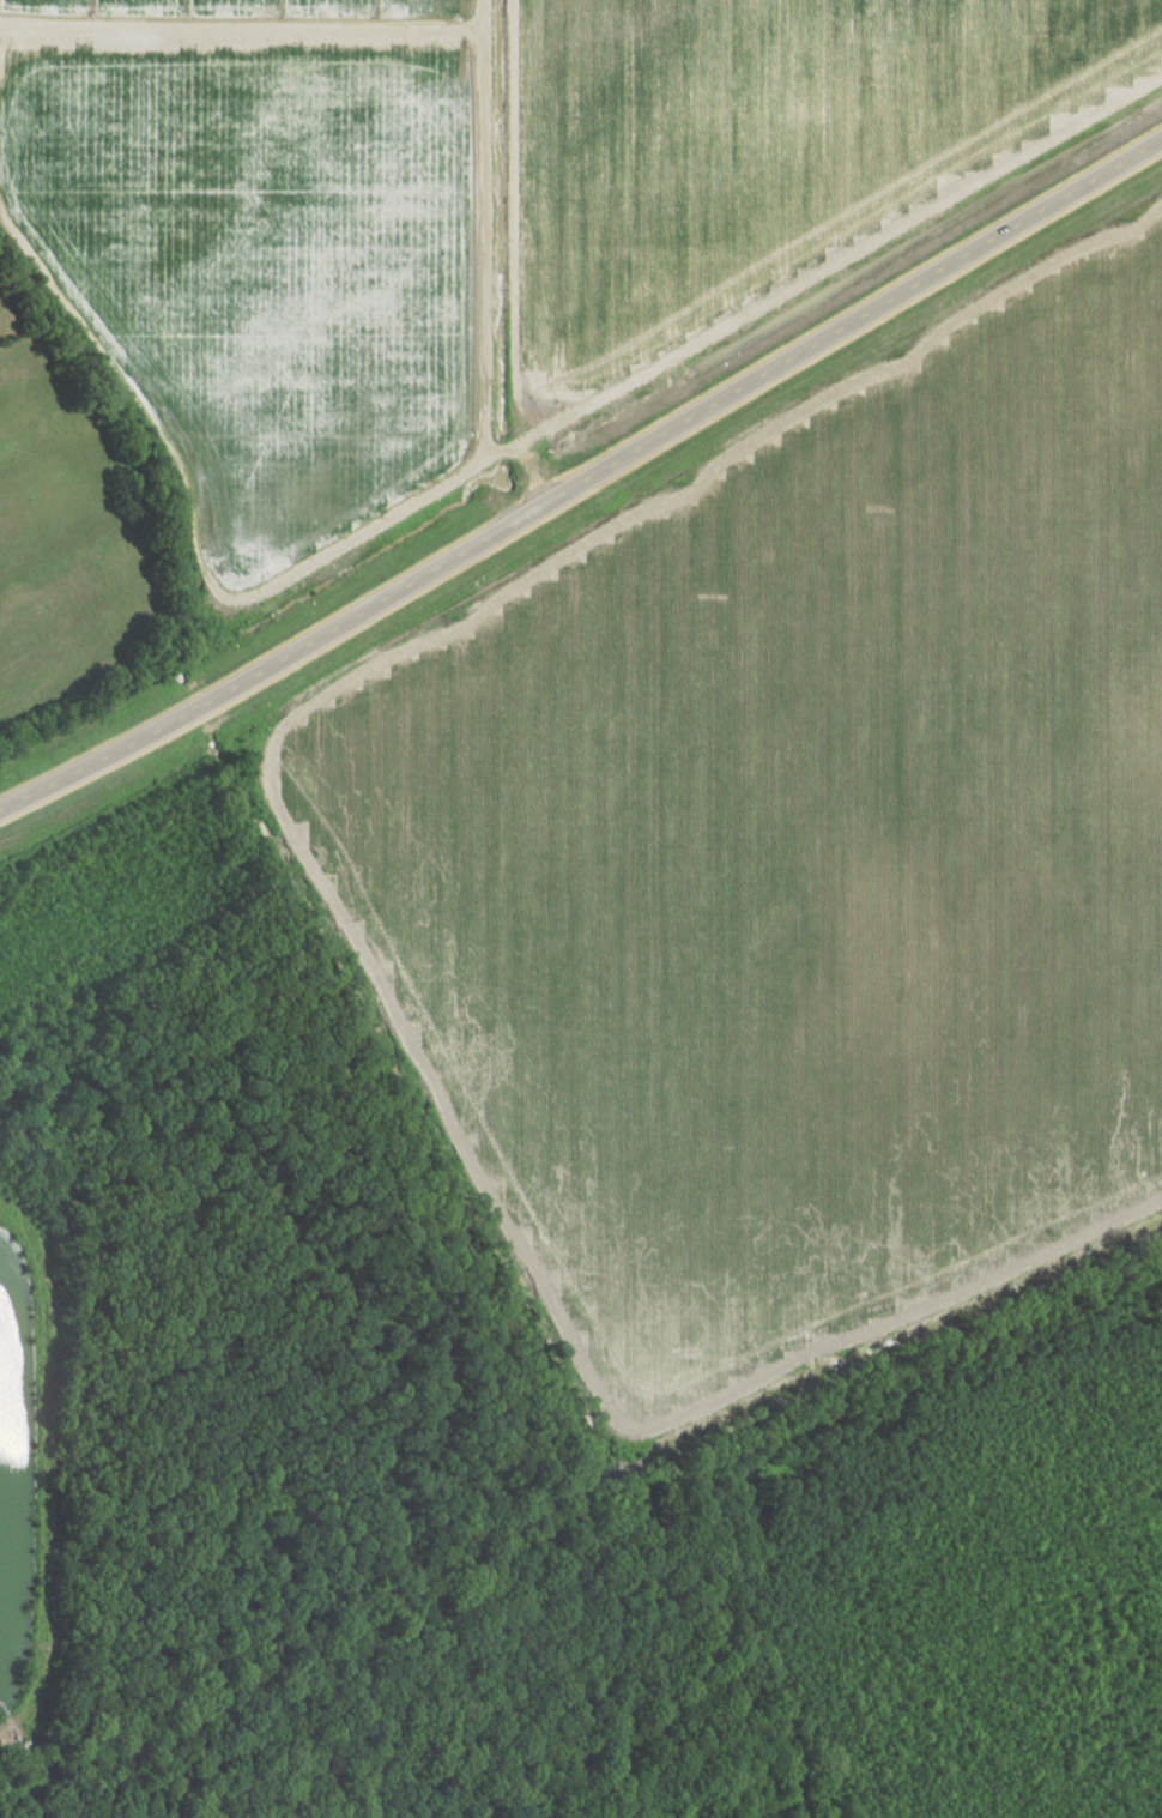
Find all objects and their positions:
road: (583, 479)

